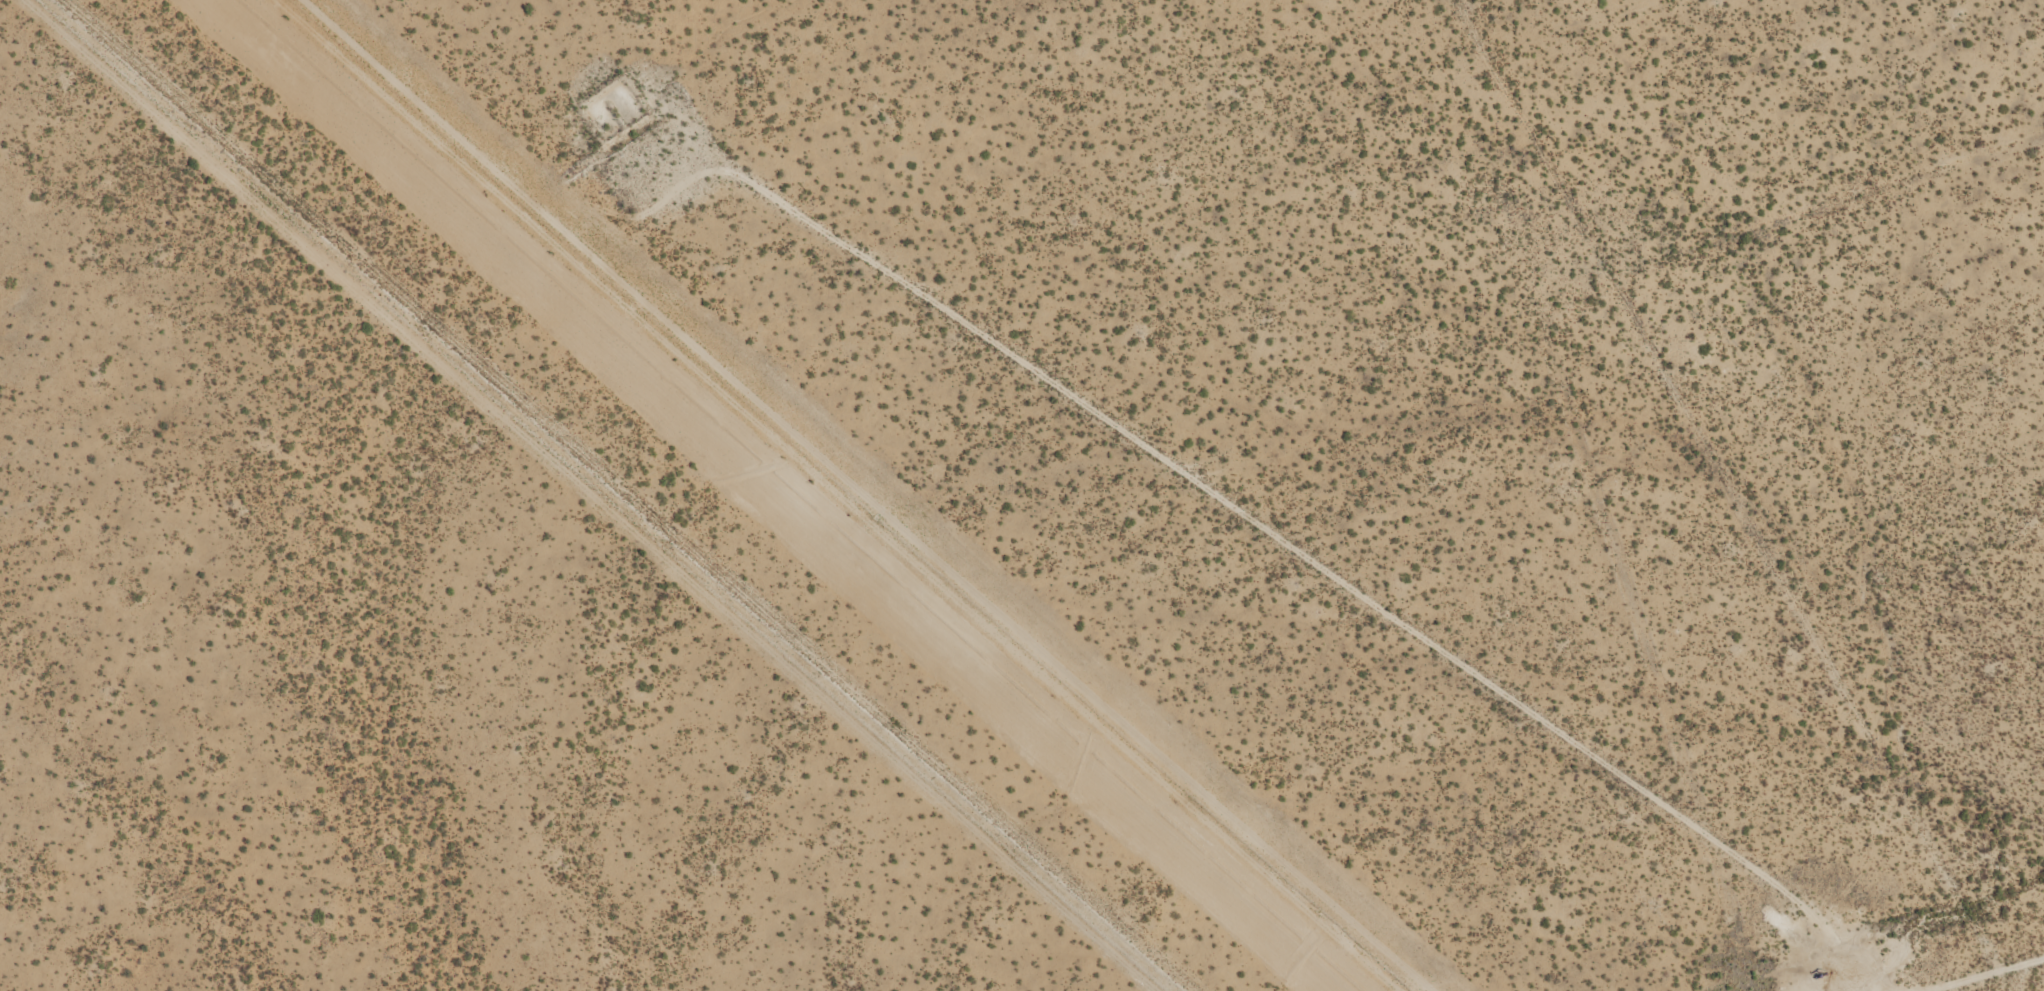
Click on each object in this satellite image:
road: (1862, 227)

